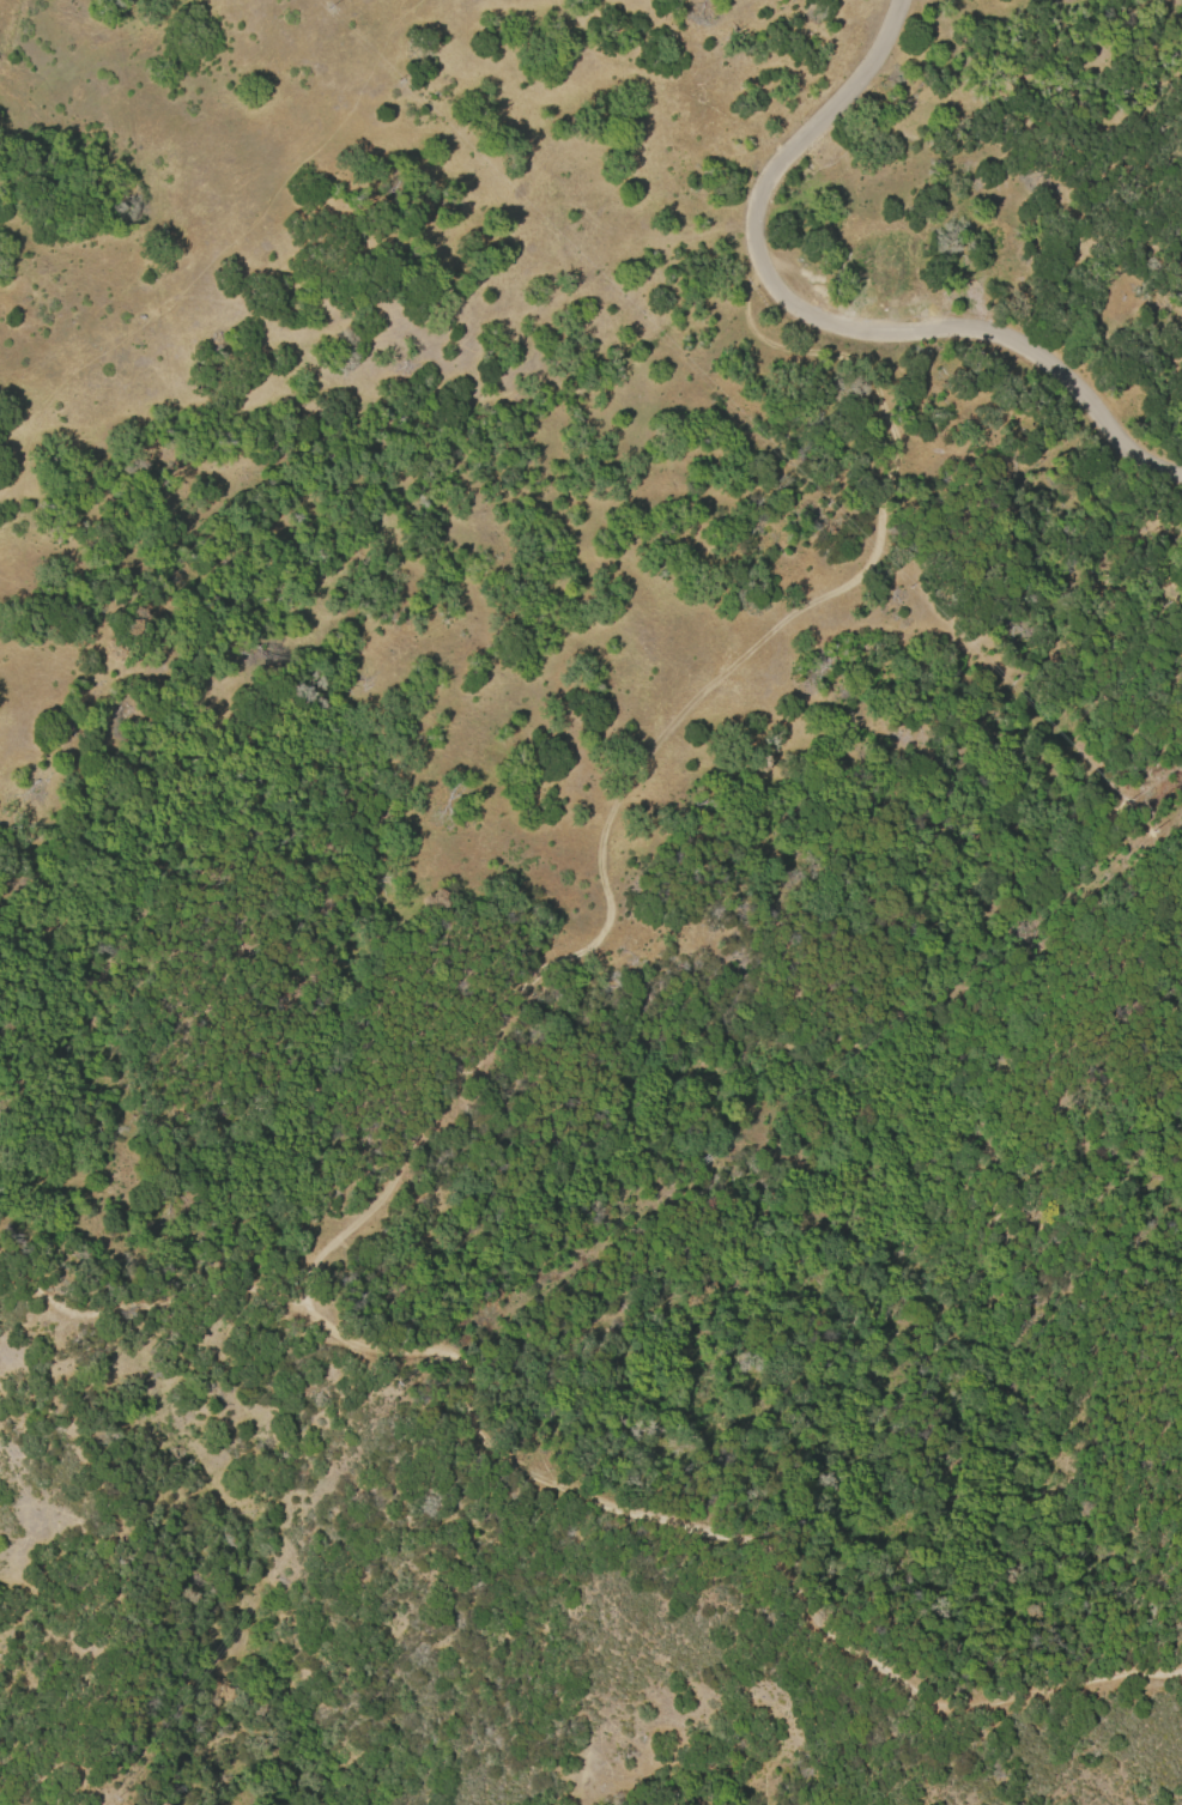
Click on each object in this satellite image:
road: (224, 252)
road: (832, 319)
road: (395, 1182)
road: (145, 1300)
road: (419, 1413)

